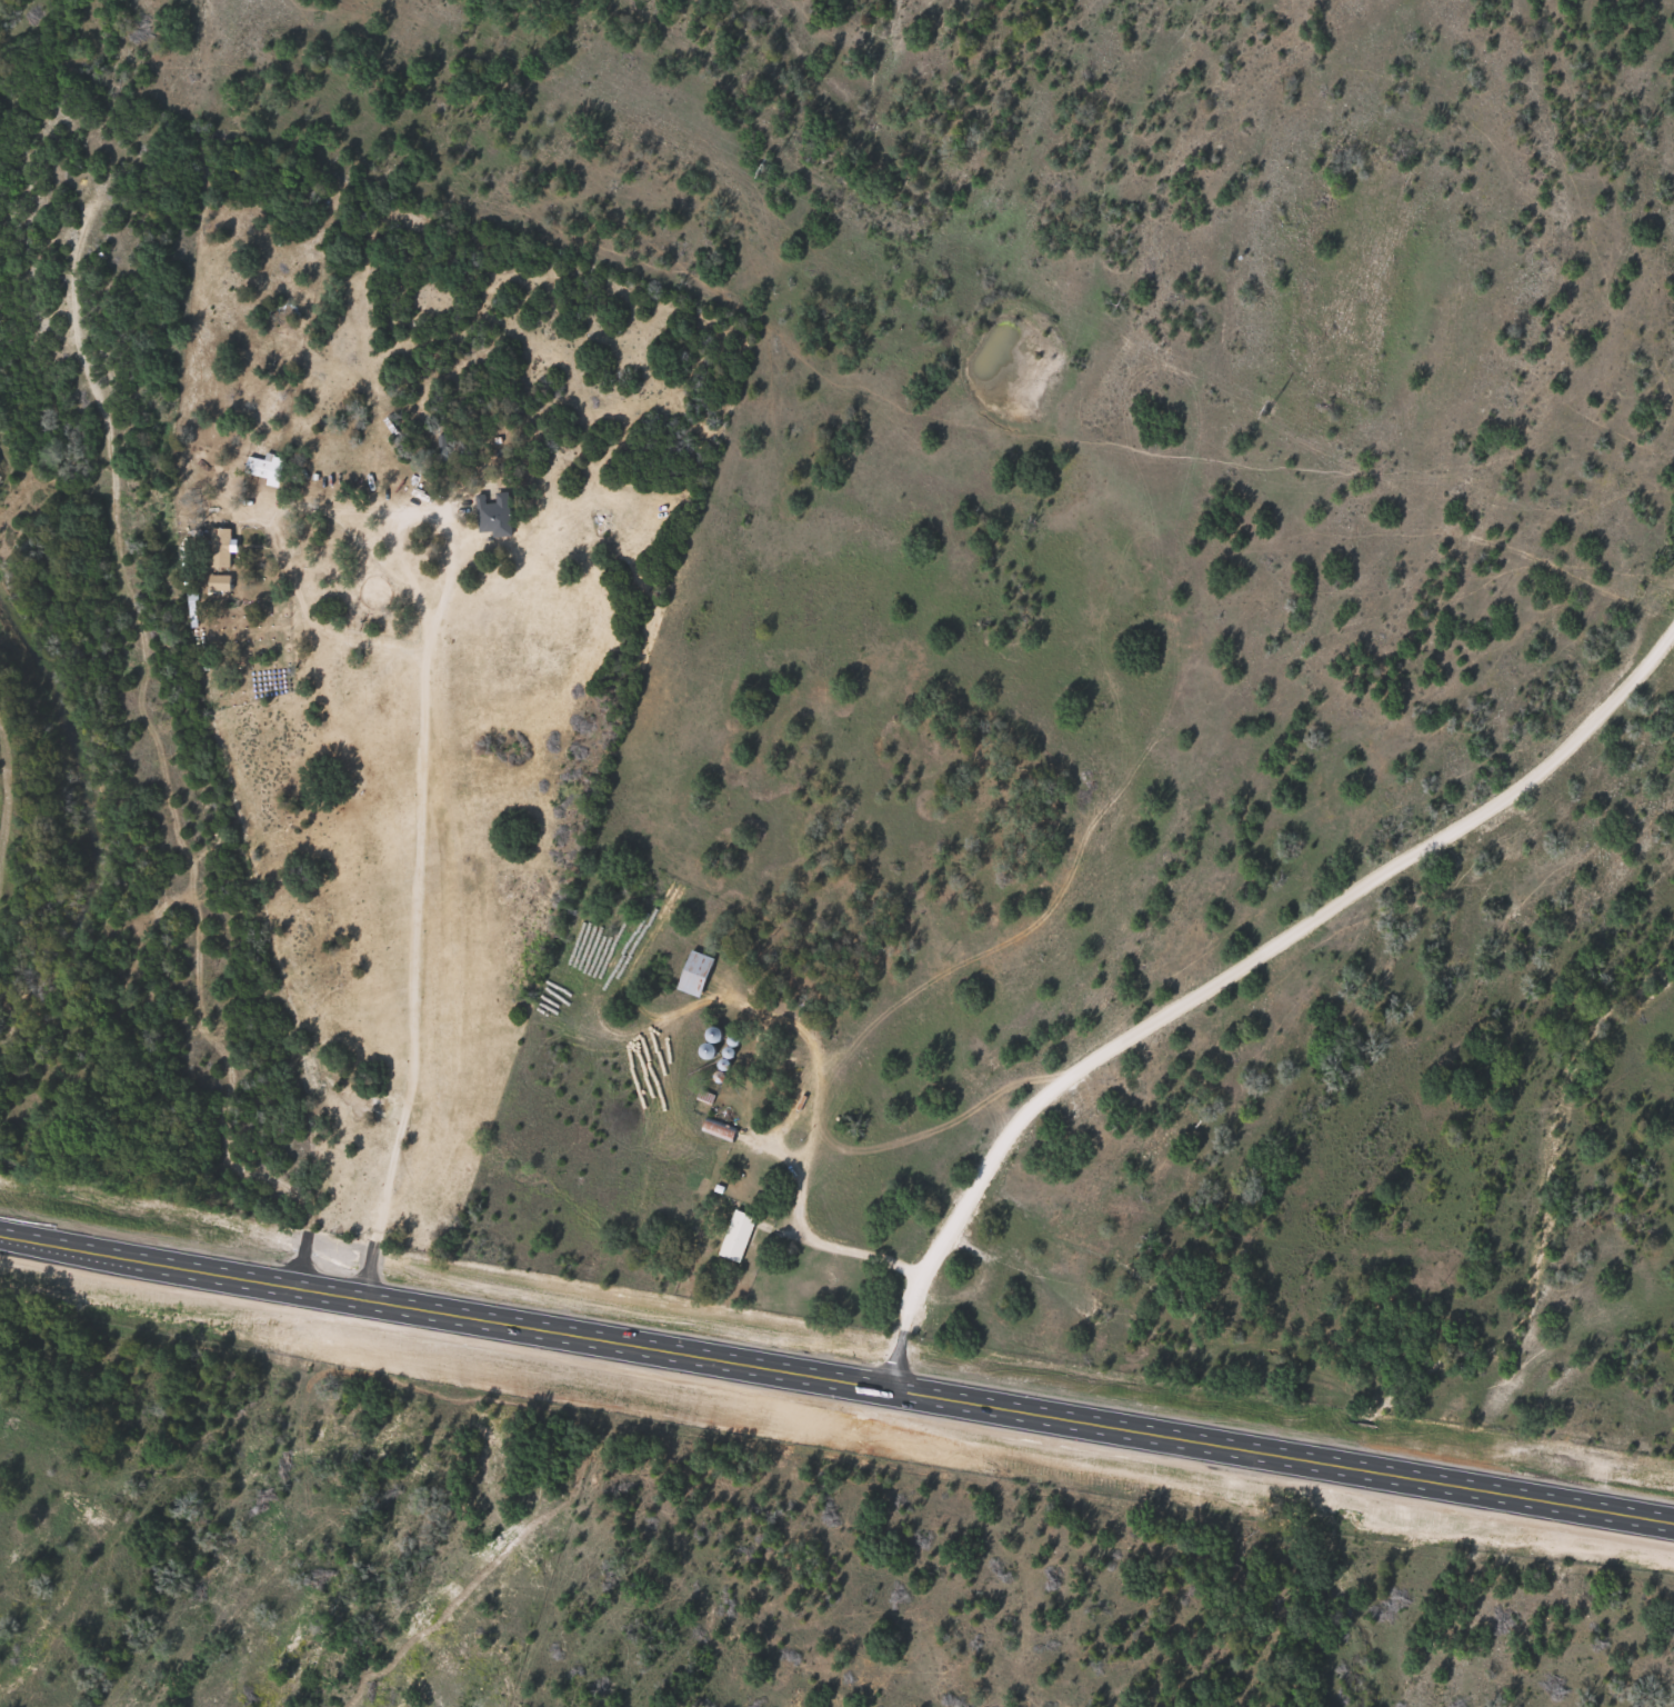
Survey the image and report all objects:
power tower: (764, 169)
power tower: (1266, 409)
building: (267, 468)
building: (494, 513)
building: (221, 548)
building: (220, 582)
road: (1212, 942)
building: (696, 974)
building: (714, 1127)
building: (738, 1236)
road: (835, 1380)

